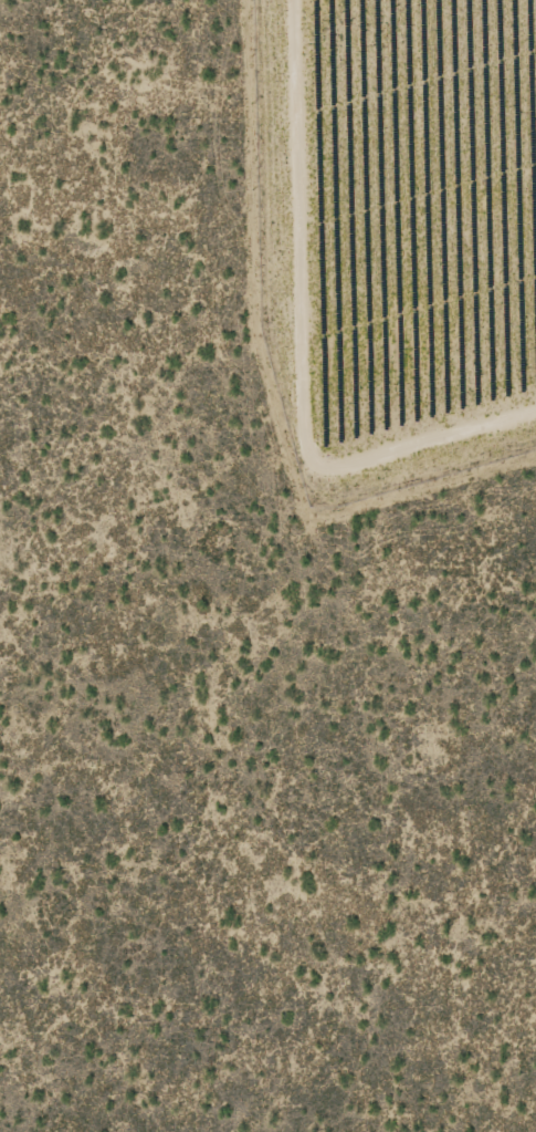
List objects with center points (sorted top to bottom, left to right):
solar farm: (397, 233)

